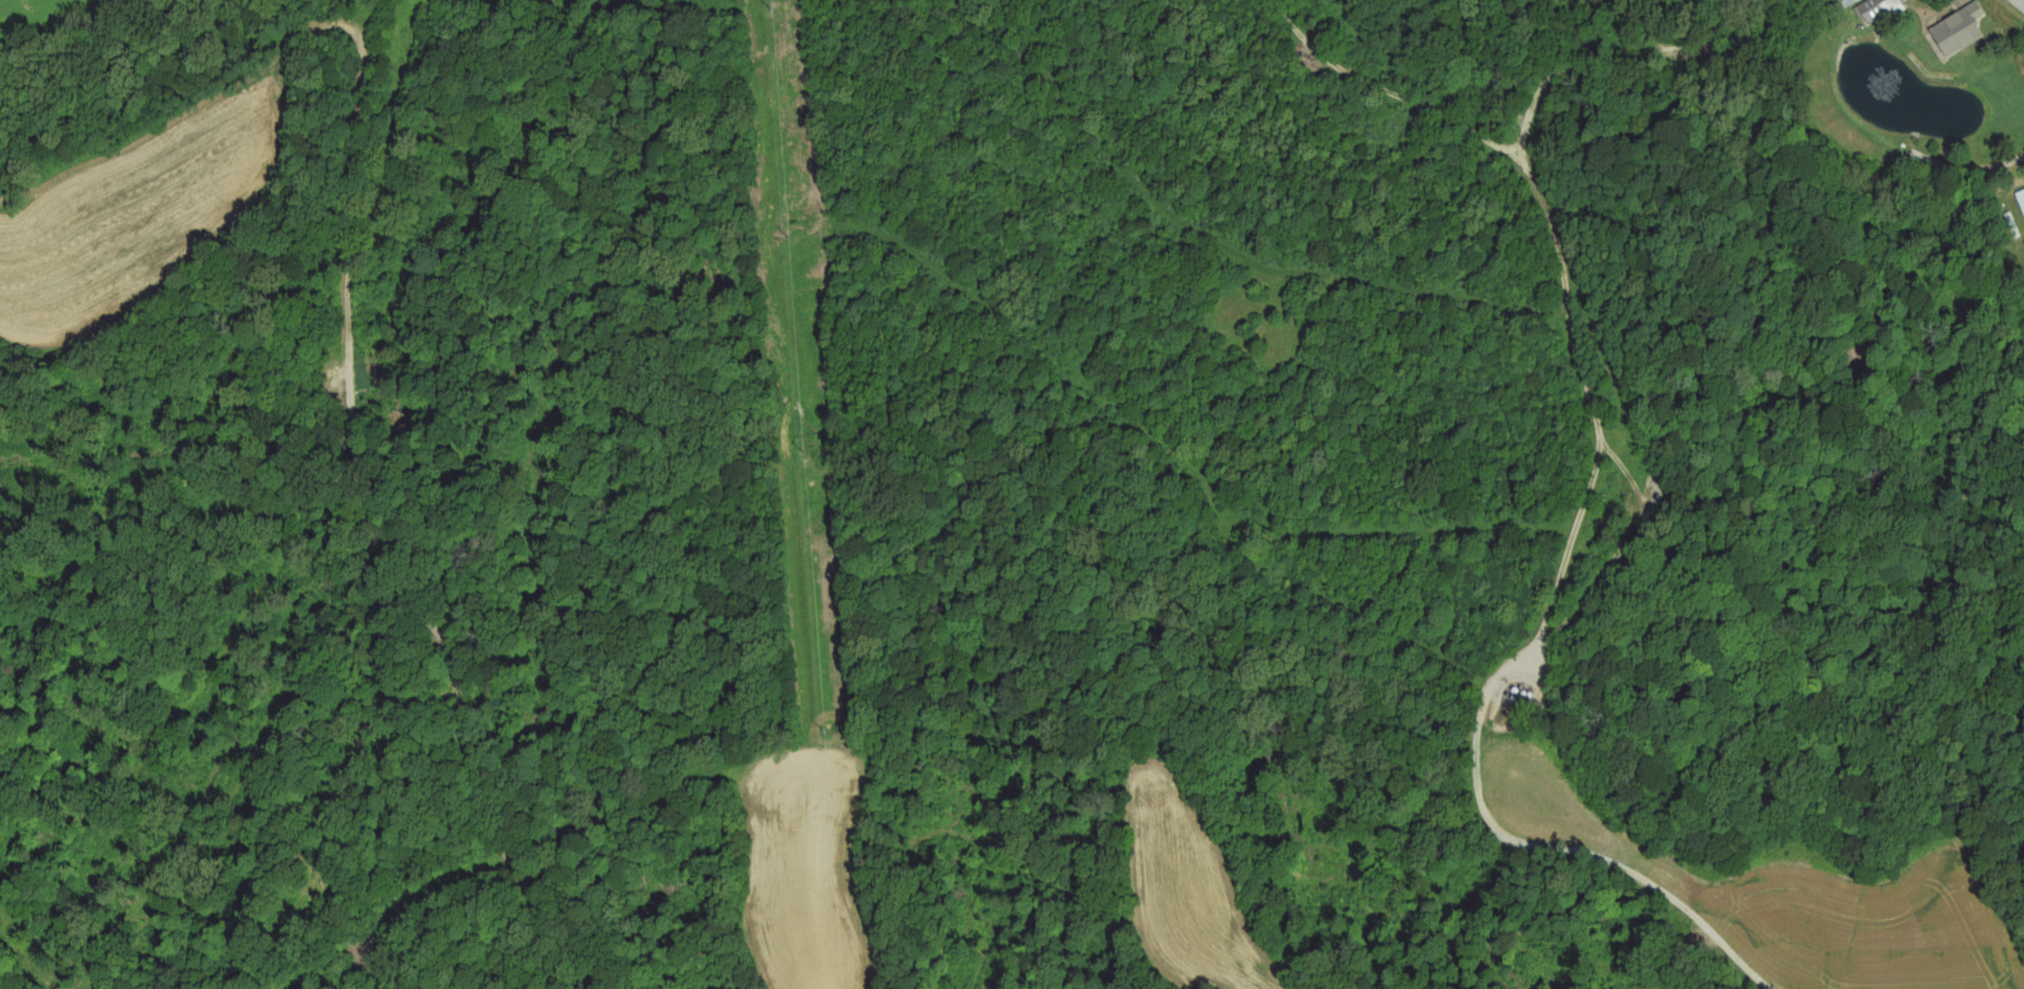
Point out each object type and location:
road: (2022, 1)
building: (1850, 2)
building: (1878, 7)
building: (1960, 30)
building: (2022, 197)

